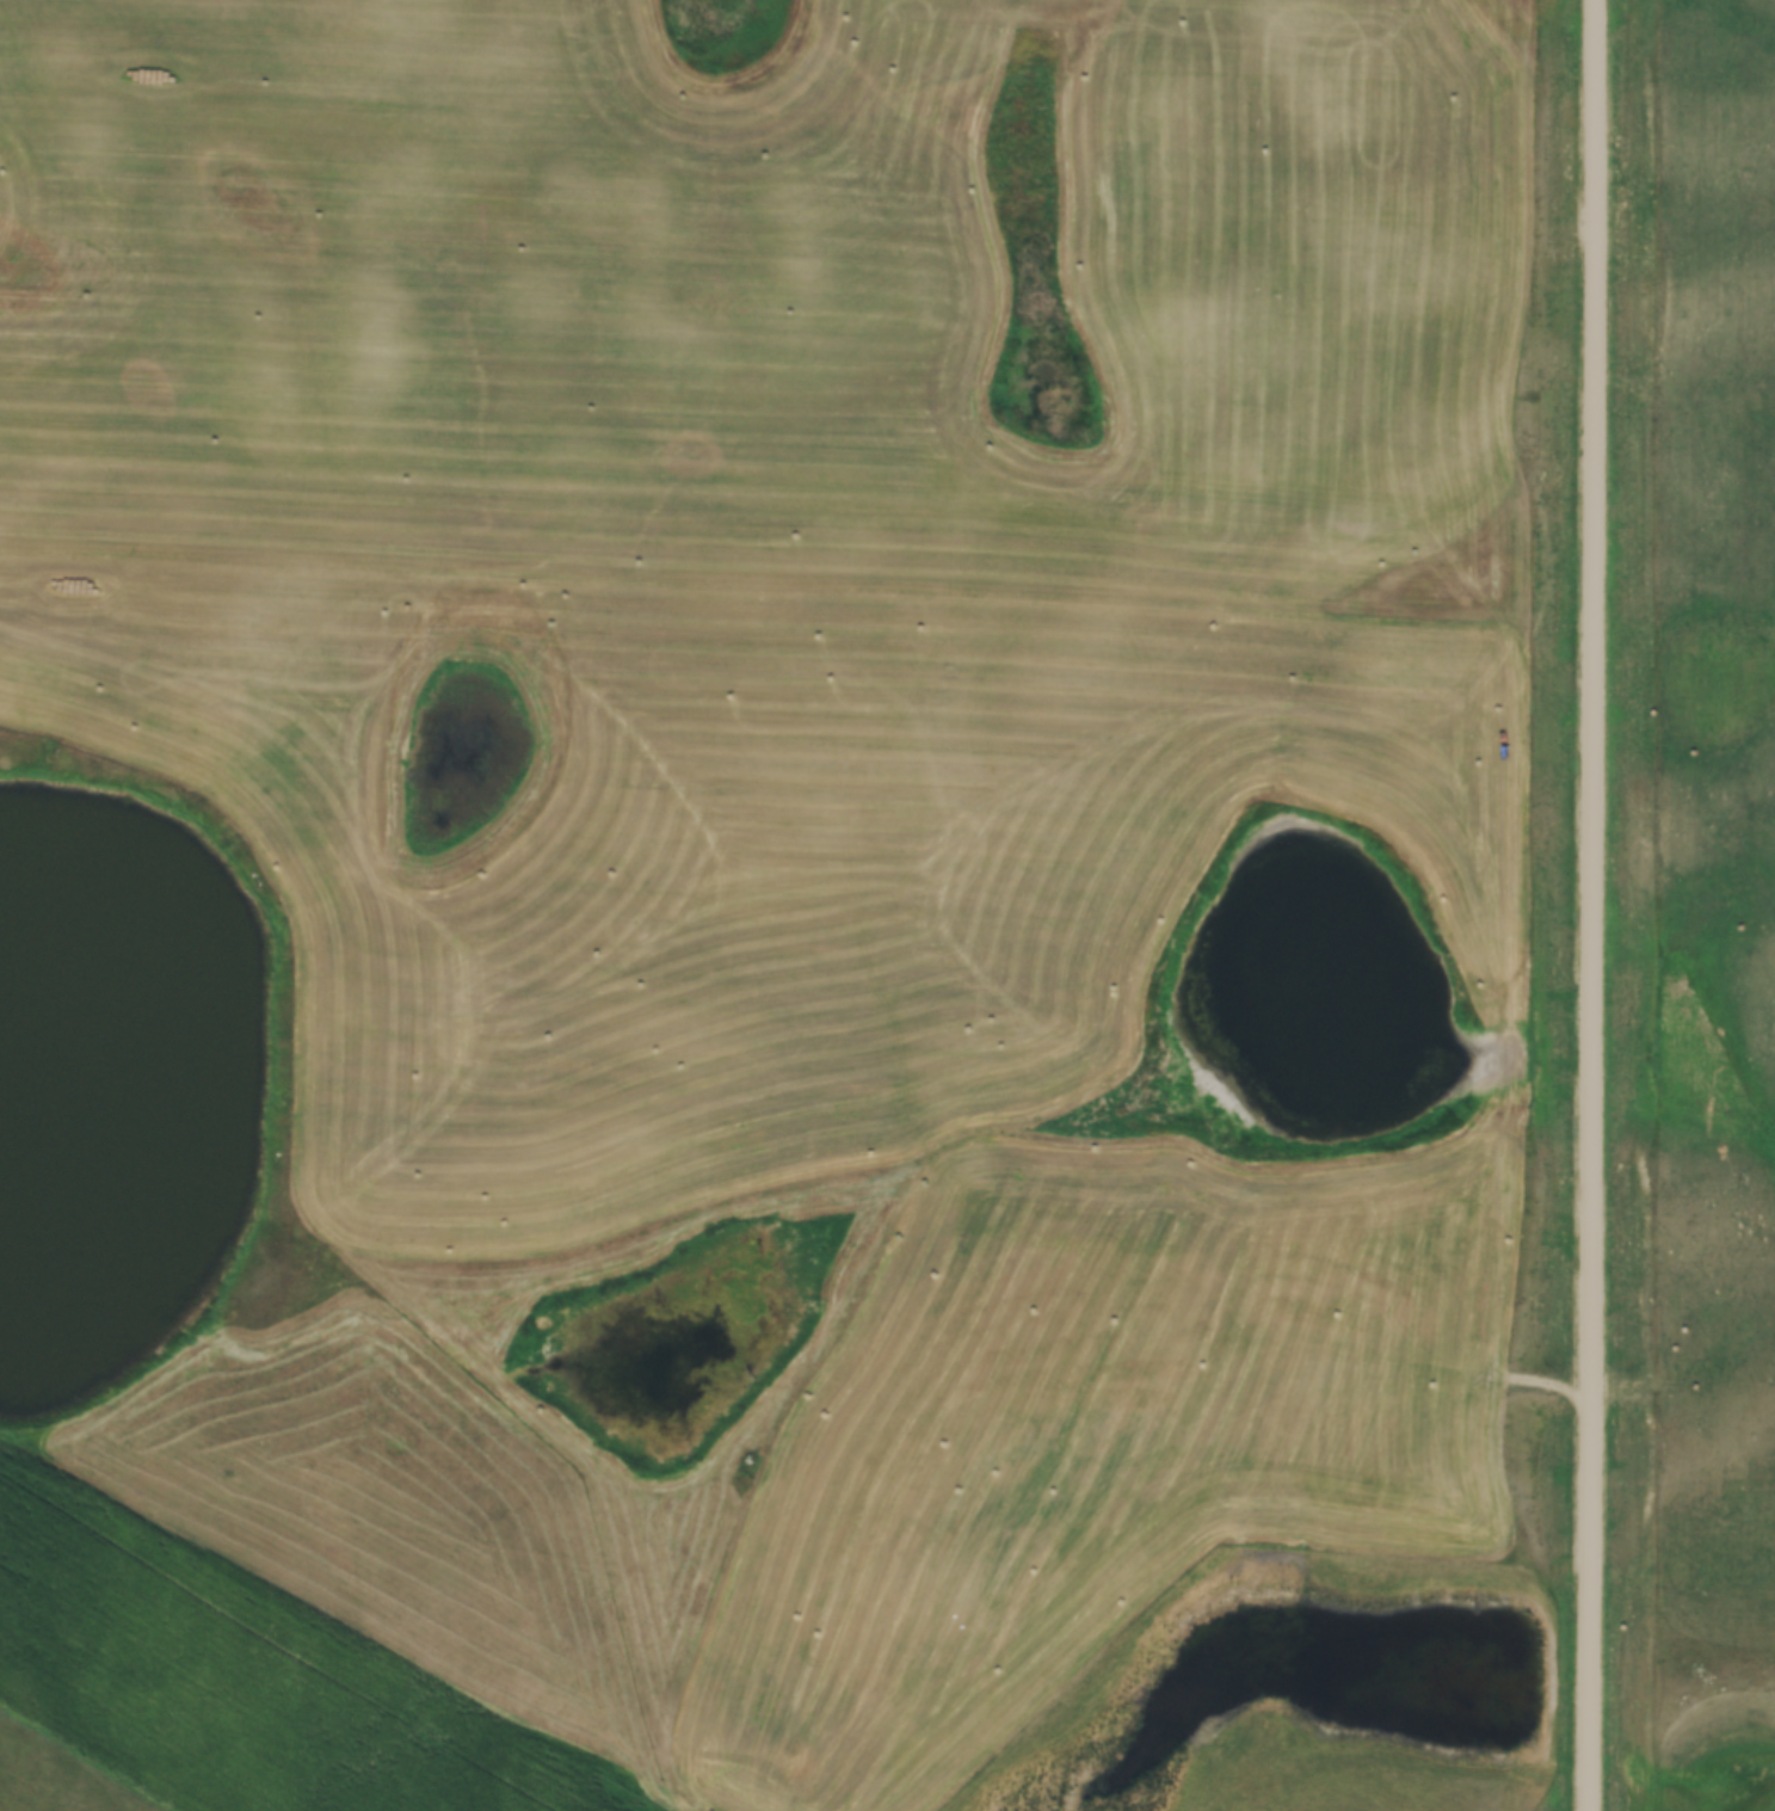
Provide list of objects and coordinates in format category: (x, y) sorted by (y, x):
road: (1595, 905)

